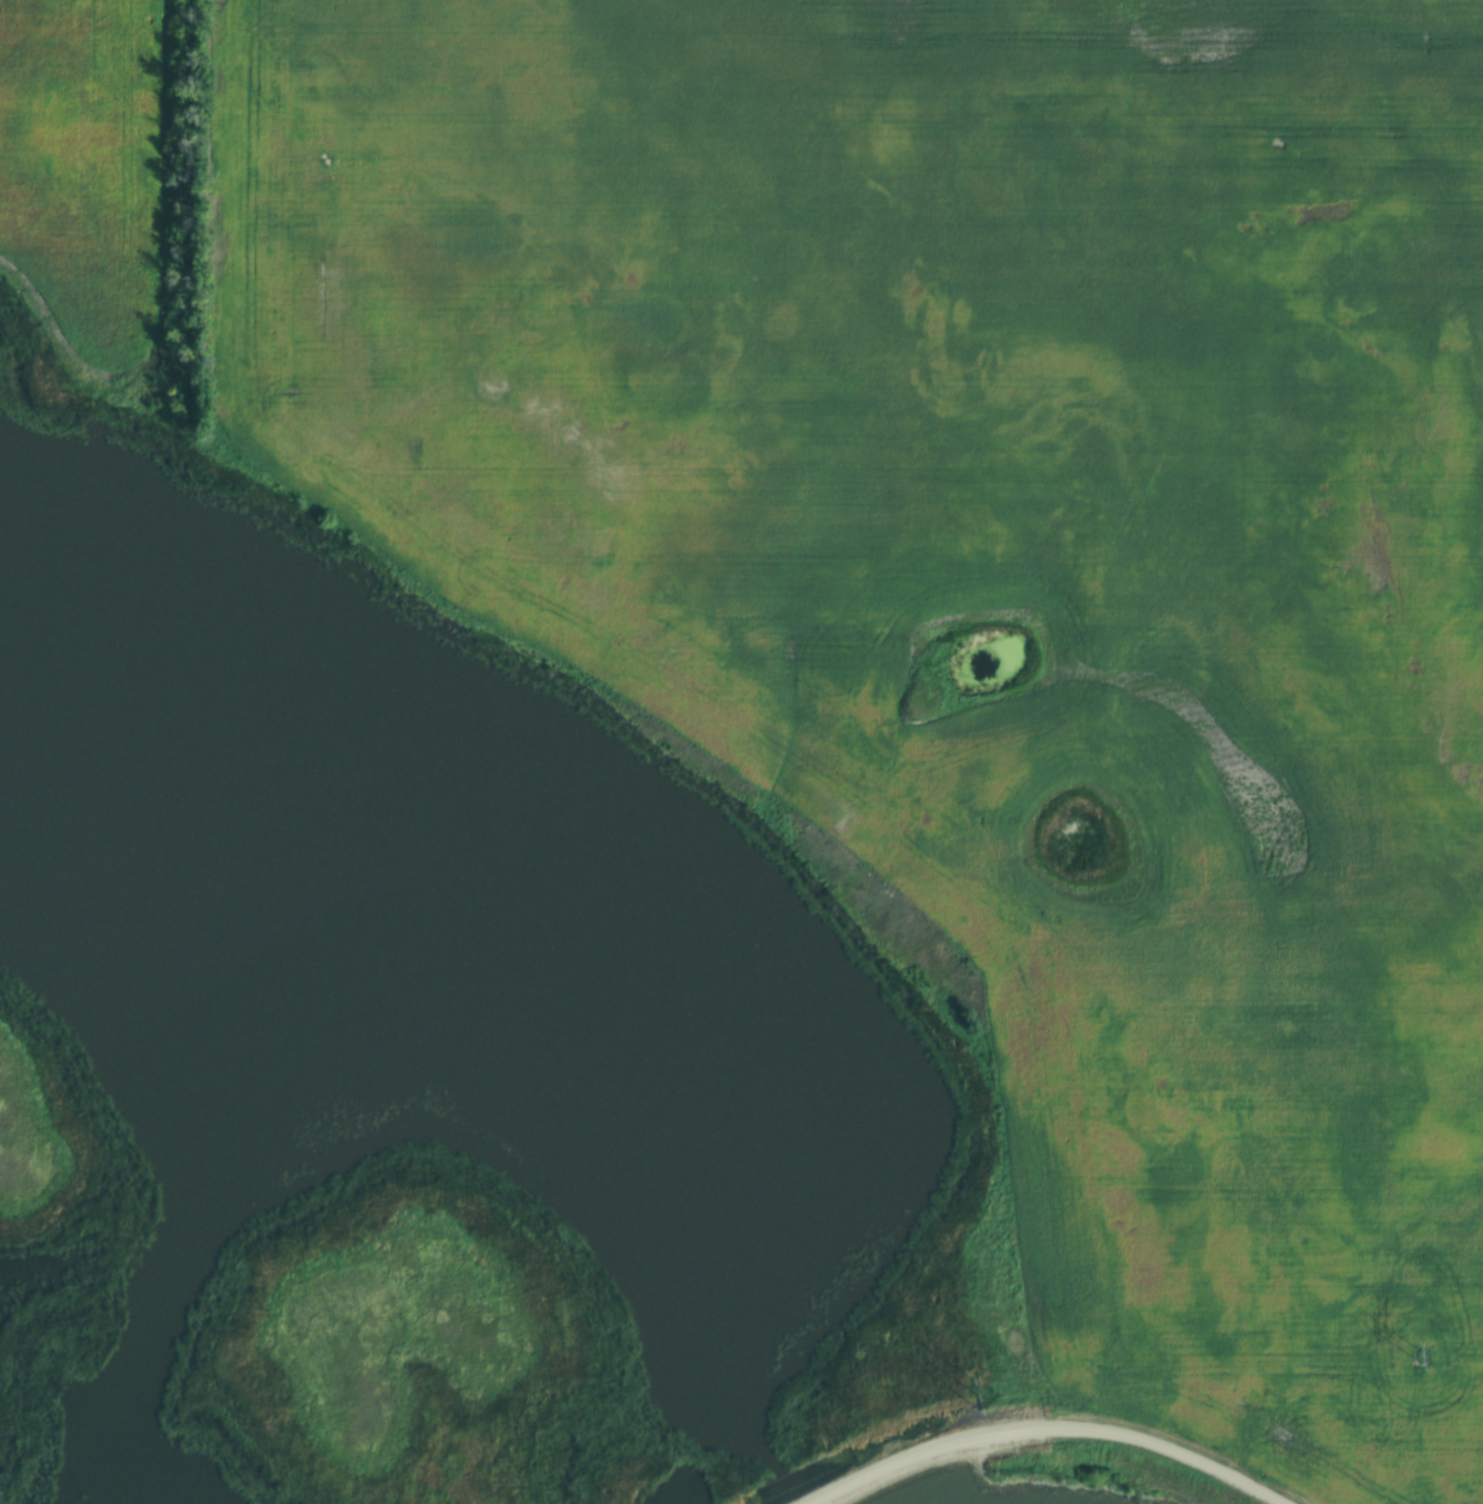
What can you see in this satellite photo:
power tower: (1418, 1360)
power tower: (974, 1397)
road: (1049, 1429)

